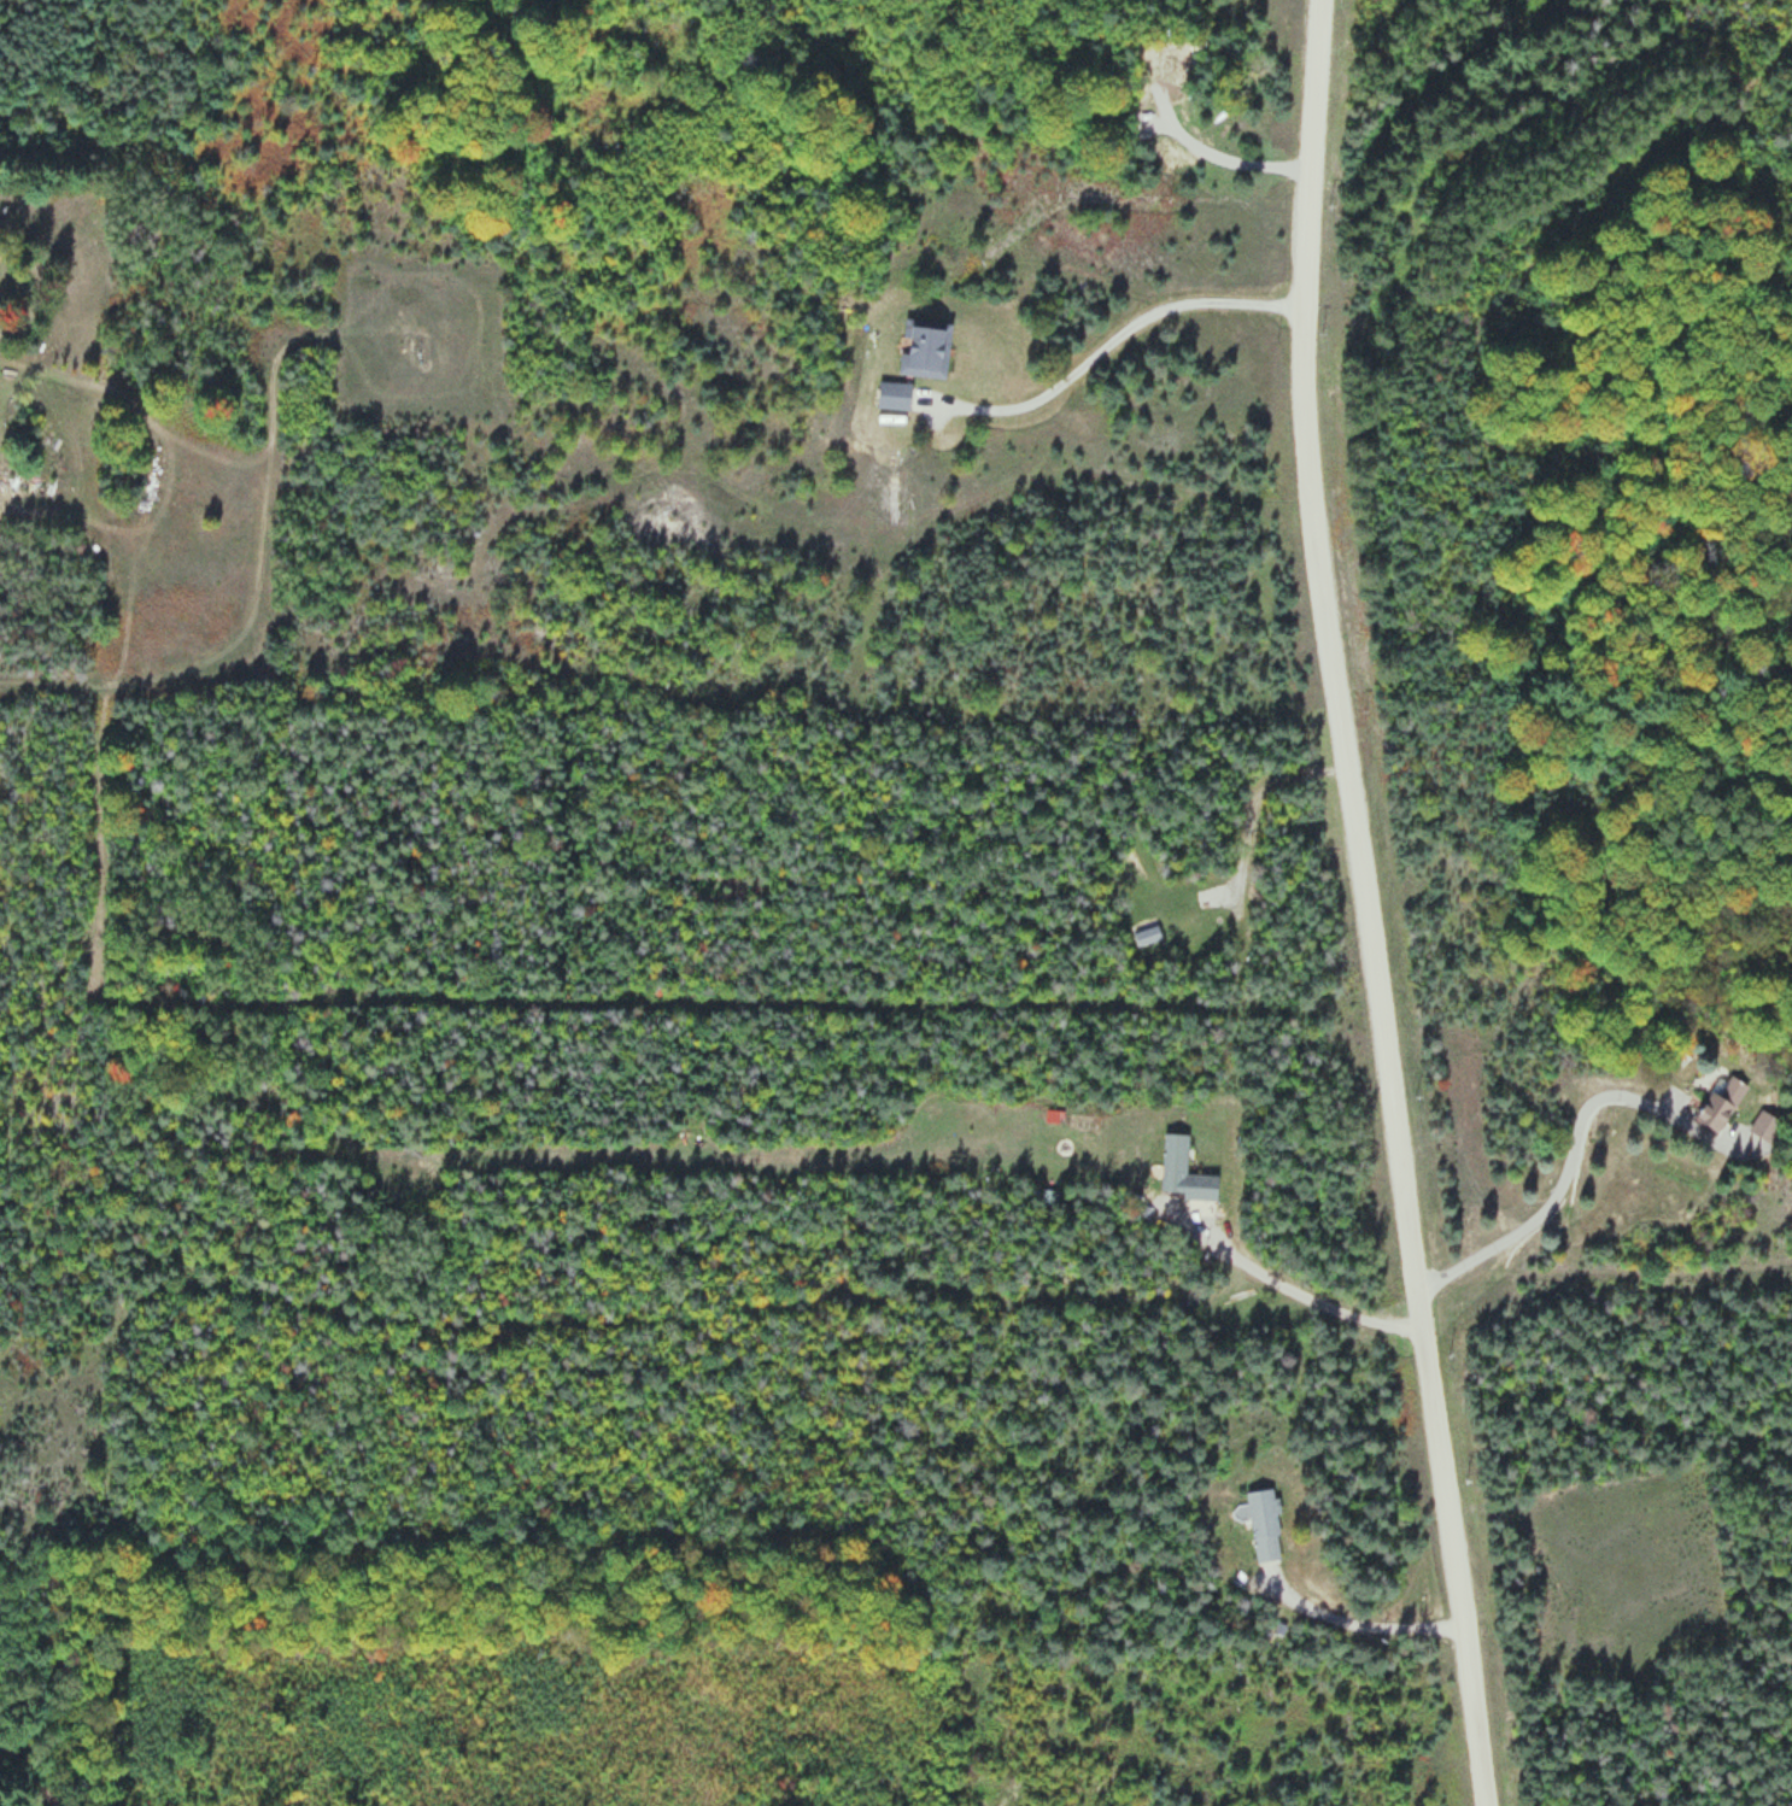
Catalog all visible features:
building: (925, 348)
building: (894, 395)
road: (1366, 904)
building: (1722, 1102)
building: (1767, 1126)
building: (1183, 1171)
building: (1264, 1524)

